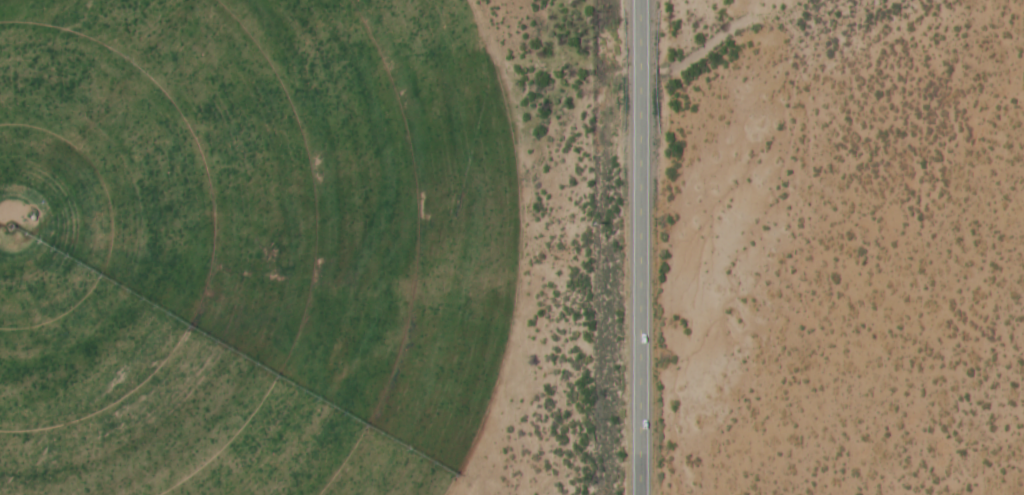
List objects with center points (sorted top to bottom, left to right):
crop: (255, 246)
road: (635, 247)

